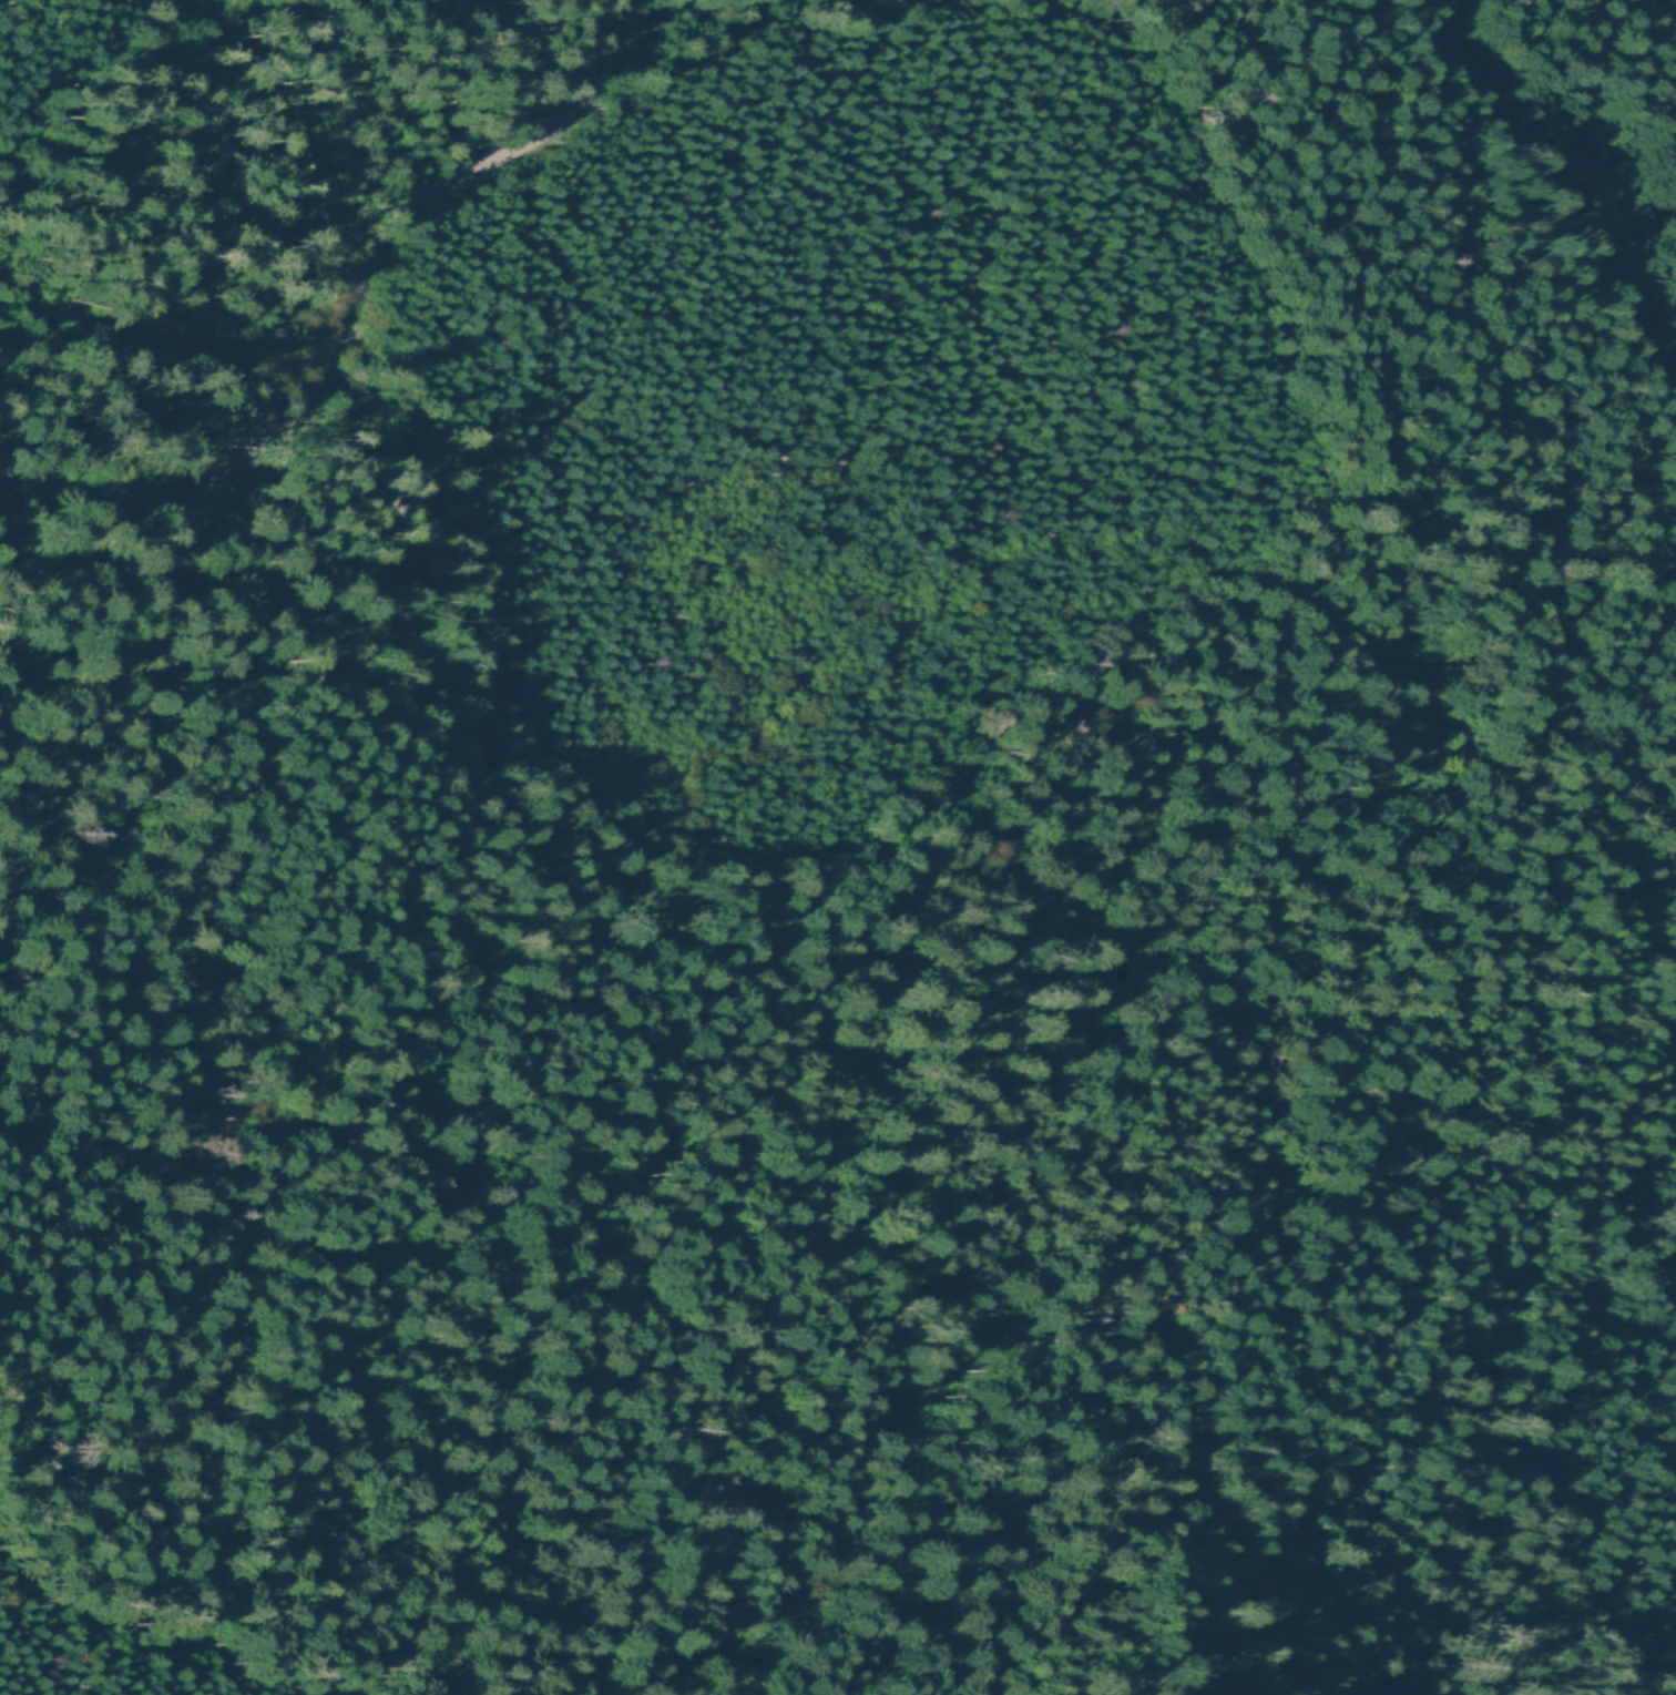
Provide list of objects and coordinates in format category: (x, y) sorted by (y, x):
road: (1554, 173)
road: (351, 324)
road: (1508, 878)
road: (1537, 1623)

